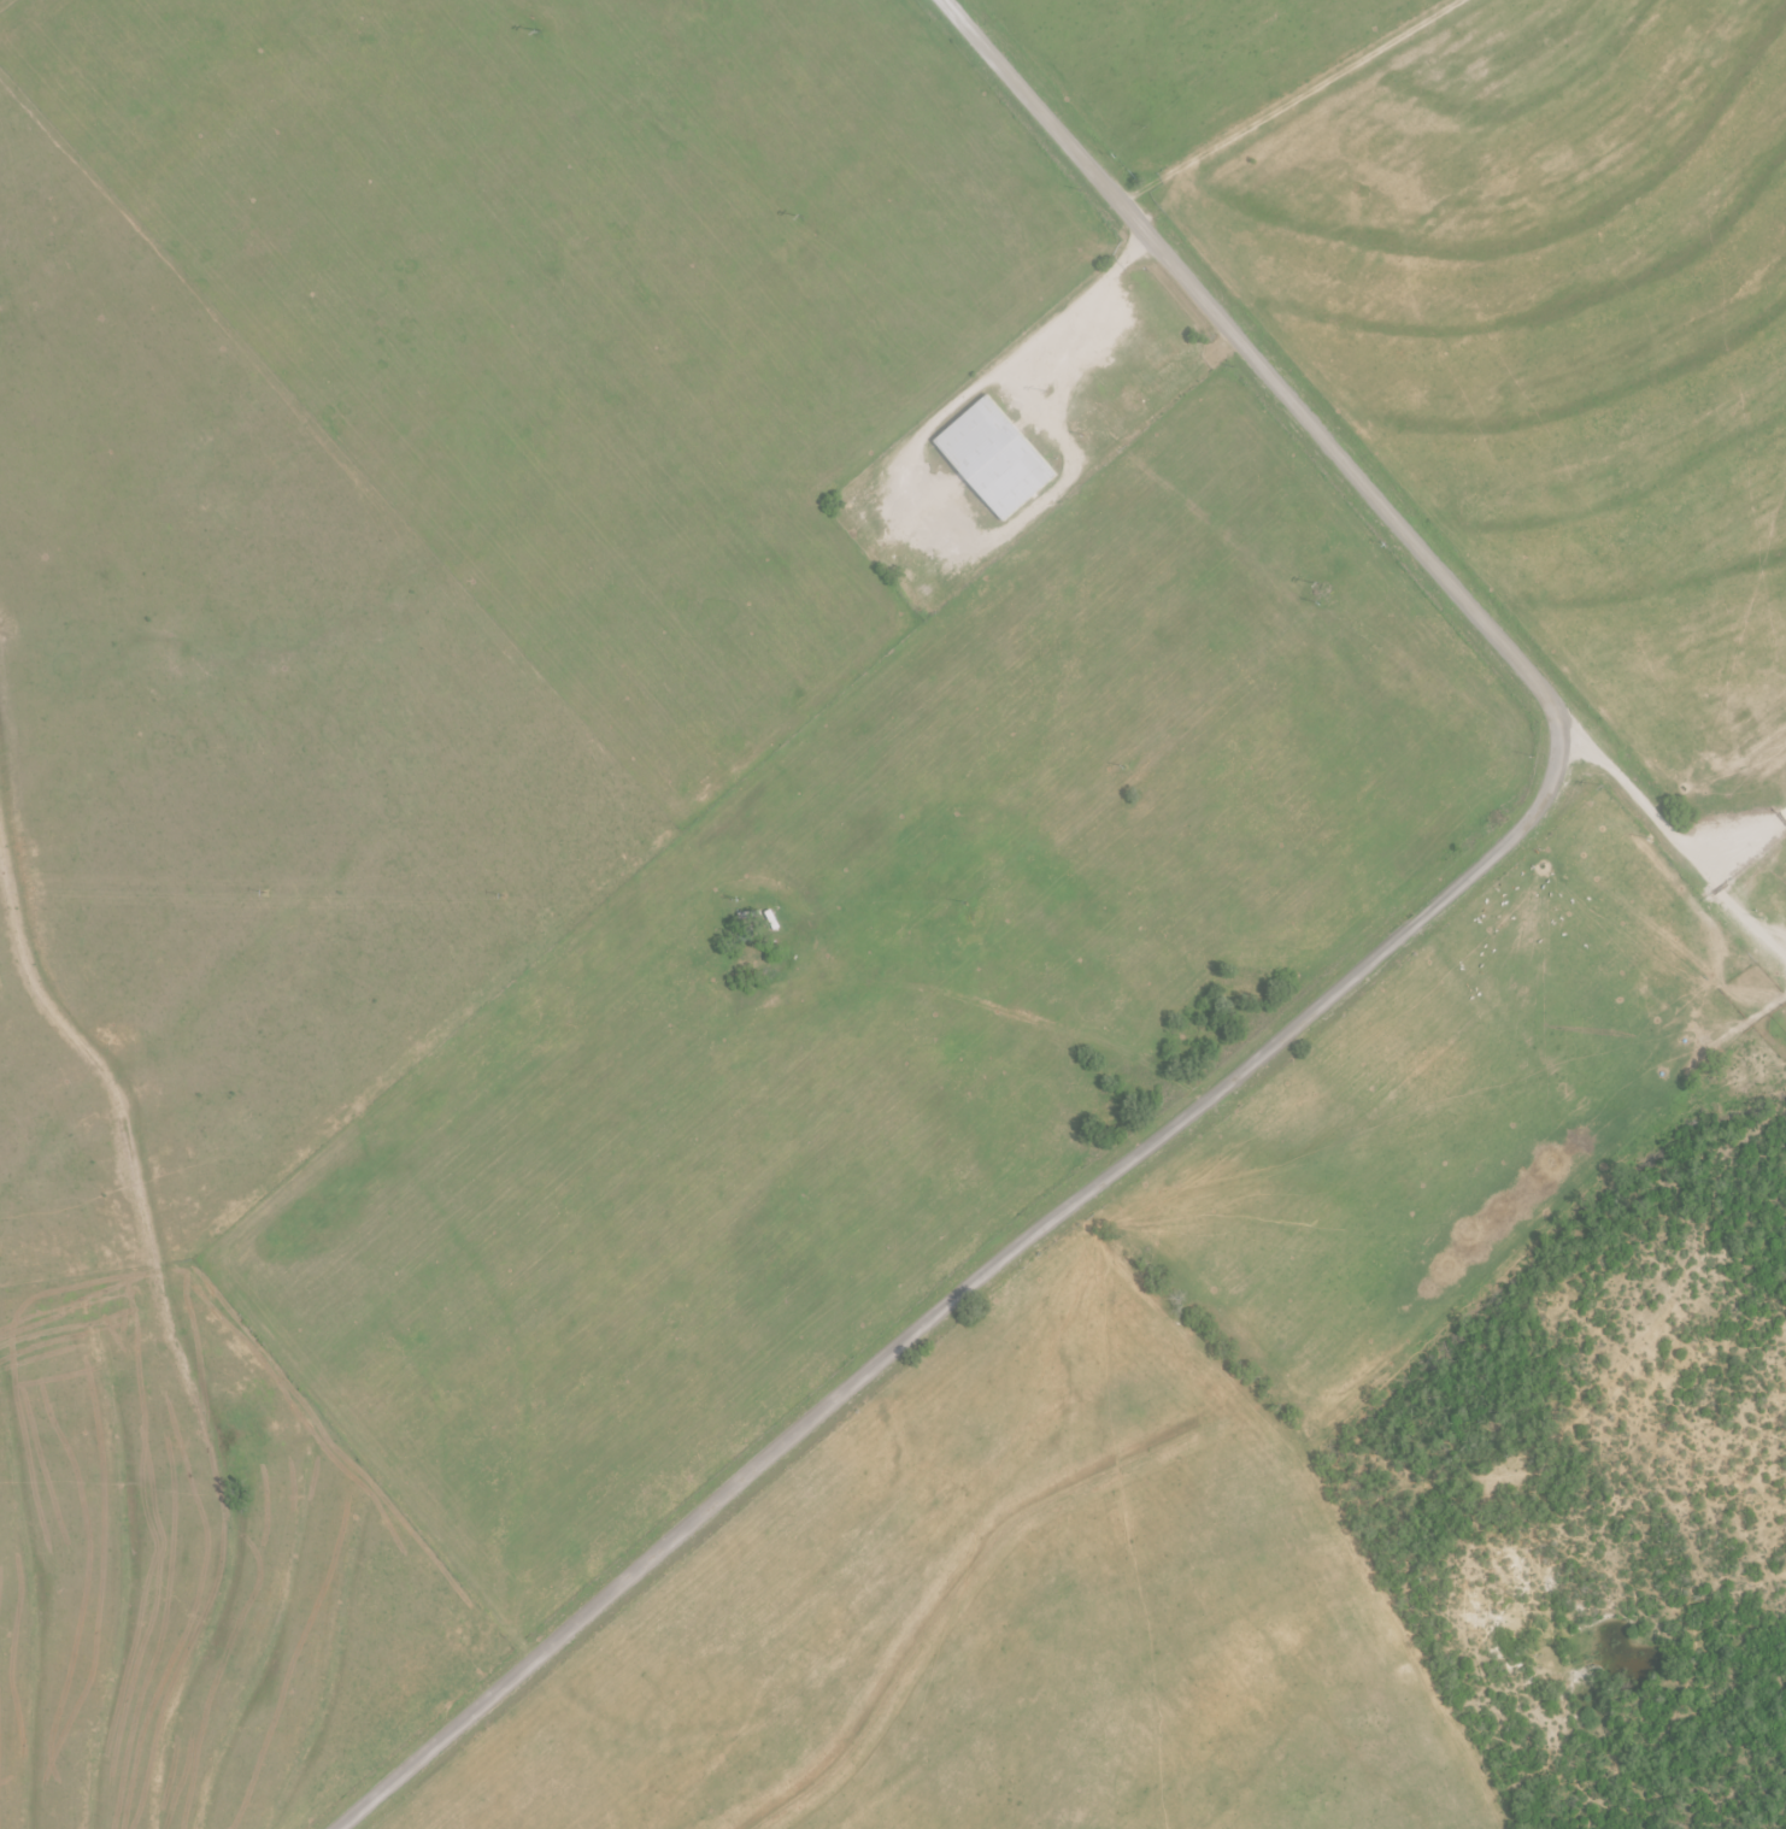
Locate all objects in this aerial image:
power tower: (541, 33)
power tower: (803, 218)
road: (999, 371)
building: (1153, 375)
power tower: (1048, 392)
building: (994, 459)
power tower: (1318, 584)
power tower: (1603, 786)
road: (1680, 821)
road: (1726, 886)
road: (968, 921)
road: (1344, 980)
road: (1159, 1065)

